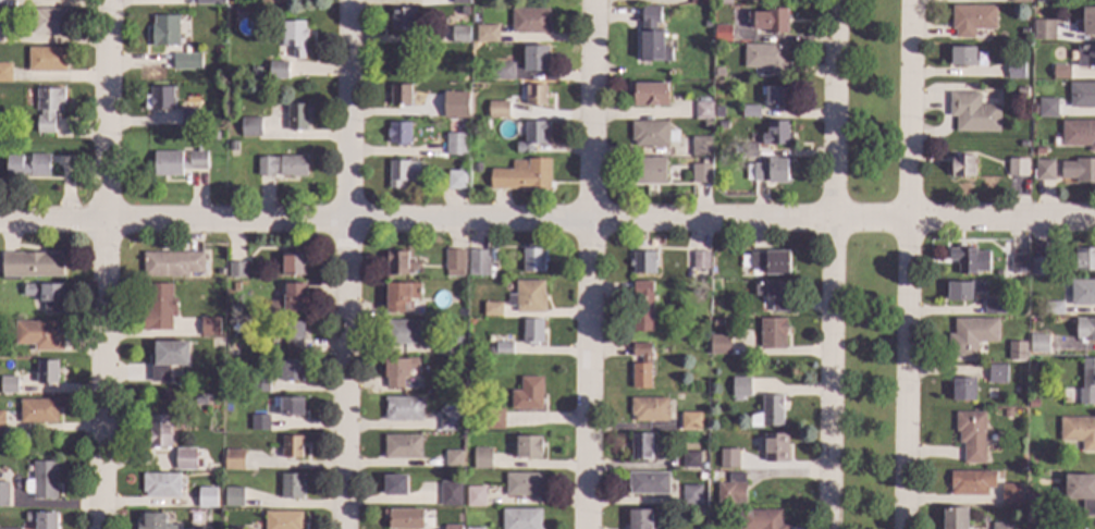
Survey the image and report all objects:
building: (208, 1)
building: (270, 1)
building: (459, 1)
building: (1020, 1)
building: (1044, 1)
building: (1, 2)
building: (700, 2)
building: (724, 2)
building: (401, 19)
building: (529, 20)
building: (971, 20)
building: (1087, 20)
building: (48, 21)
building: (458, 21)
building: (771, 21)
building: (708, 24)
building: (1044, 29)
building: (163, 30)
building: (0, 33)
building: (485, 33)
building: (723, 33)
building: (459, 35)
building: (652, 35)
building: (294, 37)
building: (962, 56)
building: (1085, 56)
building: (536, 58)
building: (765, 58)
building: (46, 59)
building: (186, 61)
building: (278, 70)
building: (1014, 70)
building: (502, 71)
building: (4, 72)
building: (718, 72)
building: (1061, 72)
building: (254, 73)
building: (649, 93)
building: (399, 95)
building: (536, 95)
building: (775, 95)
building: (1082, 95)
building: (159, 98)
building: (709, 98)
building: (455, 104)
building: (47, 107)
building: (1046, 107)
building: (1034, 109)
building: (439, 110)
building: (703, 110)
building: (718, 111)
building: (750, 111)
building: (503, 112)
building: (972, 113)
building: (296, 116)
building: (188, 118)
building: (483, 123)
building: (705, 123)
building: (722, 124)
building: (249, 126)
building: (398, 133)
building: (652, 133)
building: (776, 133)
building: (1079, 134)
building: (532, 135)
building: (724, 137)
building: (455, 144)
building: (232, 146)
building: (690, 146)
building: (700, 146)
building: (736, 149)
building: (748, 149)
building: (1038, 150)
building: (702, 160)
building: (176, 162)
building: (281, 164)
building: (26, 165)
building: (962, 165)
building: (476, 167)
building: (1017, 167)
building: (1043, 170)
building: (1079, 170)
building: (648, 171)
building: (767, 171)
building: (401, 172)
building: (701, 173)
building: (522, 174)
building: (716, 174)
building: (455, 180)
building: (245, 192)
road: (547, 219)
building: (420, 259)
building: (532, 259)
building: (700, 259)
building: (969, 259)
building: (1082, 259)
building: (478, 261)
building: (642, 261)
building: (765, 261)
building: (454, 262)
building: (171, 263)
building: (293, 263)
building: (399, 263)
building: (30, 264)
road: (106, 264)
road: (349, 264)
road: (591, 264)
road: (832, 264)
road: (908, 264)
building: (1018, 264)
building: (1038, 267)
building: (234, 269)
building: (235, 286)
building: (964, 291)
building: (774, 293)
building: (1083, 293)
building: (45, 295)
building: (401, 296)
building: (527, 296)
building: (290, 299)
building: (642, 306)
building: (158, 307)
building: (994, 307)
building: (491, 308)
building: (1053, 308)
building: (715, 322)
building: (209, 327)
building: (235, 328)
building: (1085, 329)
building: (531, 330)
building: (405, 332)
building: (772, 333)
building: (37, 334)
building: (292, 334)
building: (971, 335)
building: (1038, 343)
building: (719, 344)
building: (451, 345)
building: (702, 347)
building: (500, 348)
building: (1017, 350)
building: (167, 358)
building: (460, 361)
building: (640, 366)
building: (291, 369)
building: (397, 370)
building: (46, 372)
building: (997, 373)
building: (1087, 381)
building: (258, 382)
building: (8, 384)
building: (740, 386)
building: (963, 390)
building: (527, 394)
building: (199, 399)
building: (1032, 403)
building: (288, 406)
building: (403, 407)
building: (648, 408)
building: (37, 410)
building: (770, 410)
building: (451, 417)
building: (493, 418)
building: (0, 420)
building: (690, 420)
building: (258, 422)
building: (478, 423)
building: (159, 431)
building: (1079, 431)
building: (972, 435)
building: (640, 445)
building: (291, 446)
building: (402, 446)
building: (528, 446)
building: (693, 446)
building: (775, 447)
building: (728, 457)
building: (185, 458)
building: (234, 458)
building: (452, 458)
building: (481, 458)
building: (690, 459)
building: (702, 465)
building: (701, 476)
building: (44, 480)
building: (648, 482)
building: (522, 483)
building: (970, 483)
building: (160, 484)
building: (394, 484)
building: (291, 485)
building: (731, 489)
building: (1082, 491)
building: (450, 493)
building: (3, 494)
building: (690, 494)
building: (1011, 494)
building: (233, 496)
building: (475, 496)
building: (207, 497)
building: (699, 513)
building: (404, 518)
building: (955, 518)
building: (520, 519)
building: (644, 519)
building: (760, 519)
building: (42, 520)
building: (282, 520)
building: (153, 521)
building: (1002, 526)
building: (452, 527)
building: (1035, 527)
building: (10, 528)
building: (200, 528)
building: (223, 528)
building: (237, 528)
building: (473, 528)

